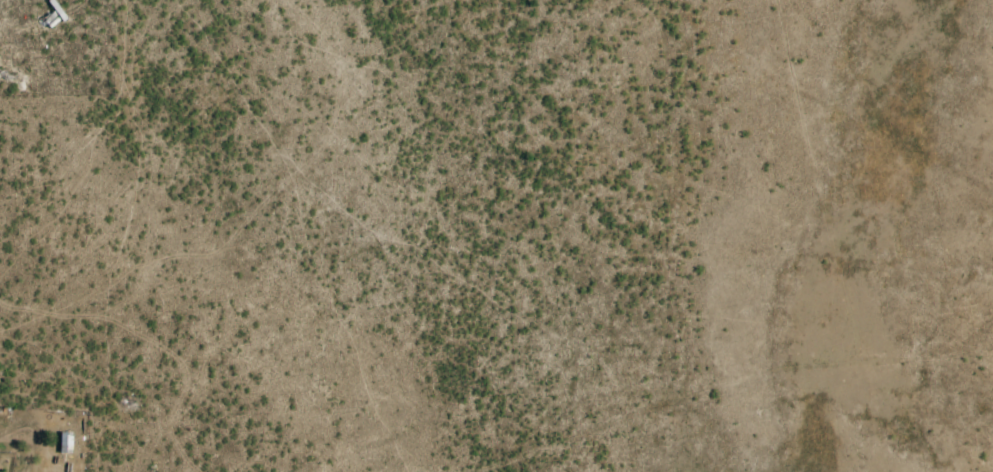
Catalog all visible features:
building: (66, 442)

